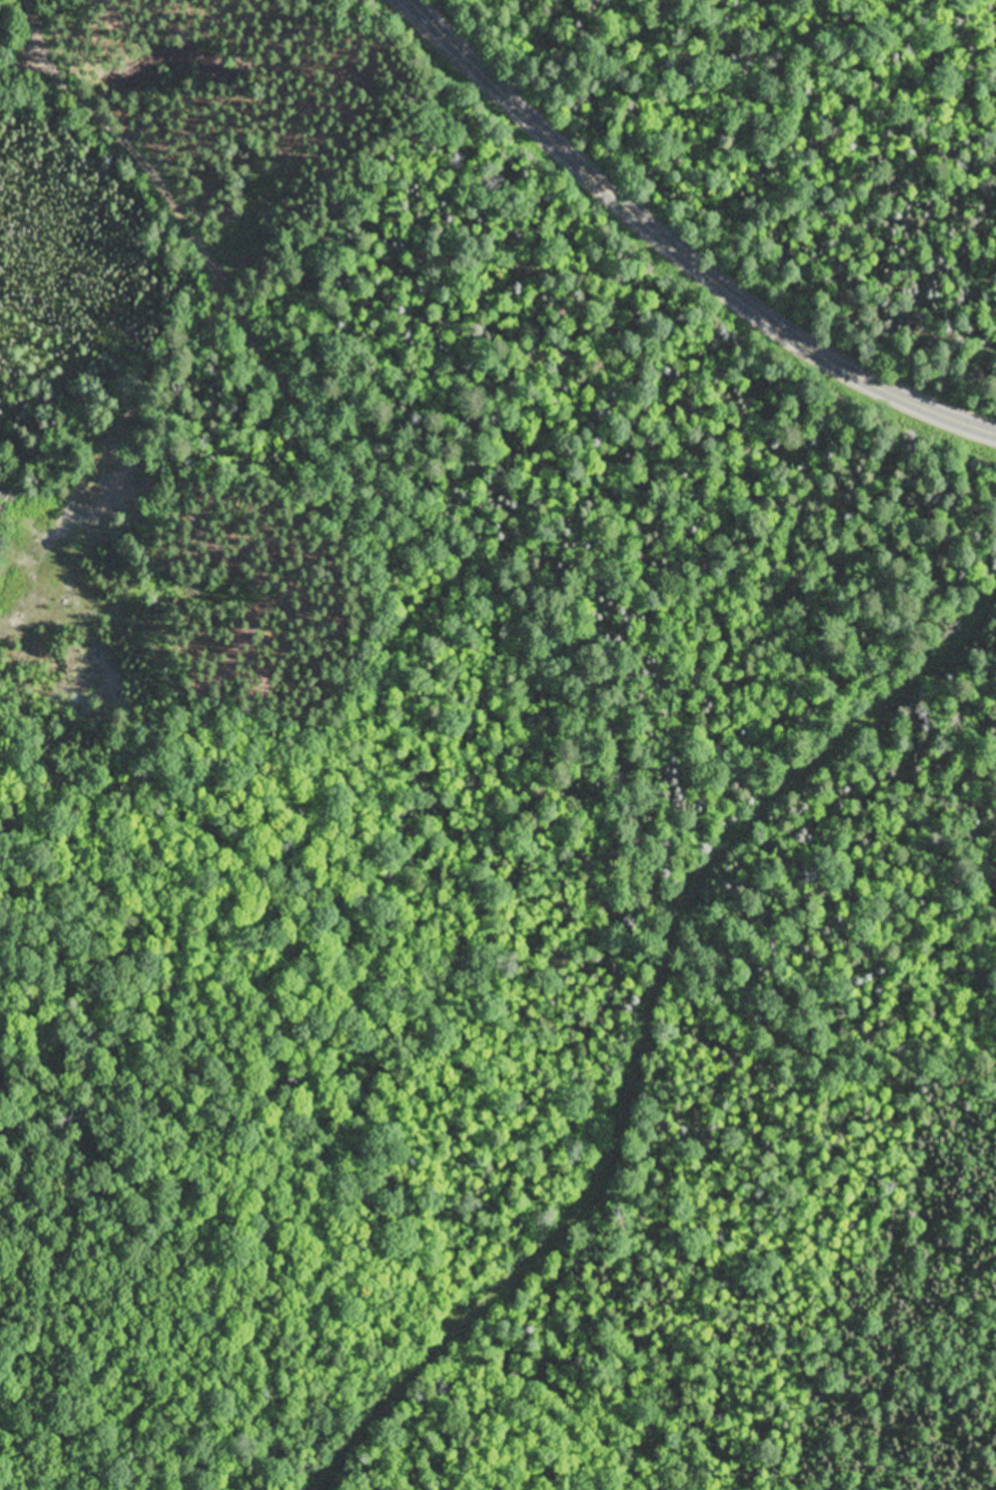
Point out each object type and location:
road: (26, 61)
road: (685, 246)
road: (365, 460)
road: (649, 1037)
road: (818, 1040)

